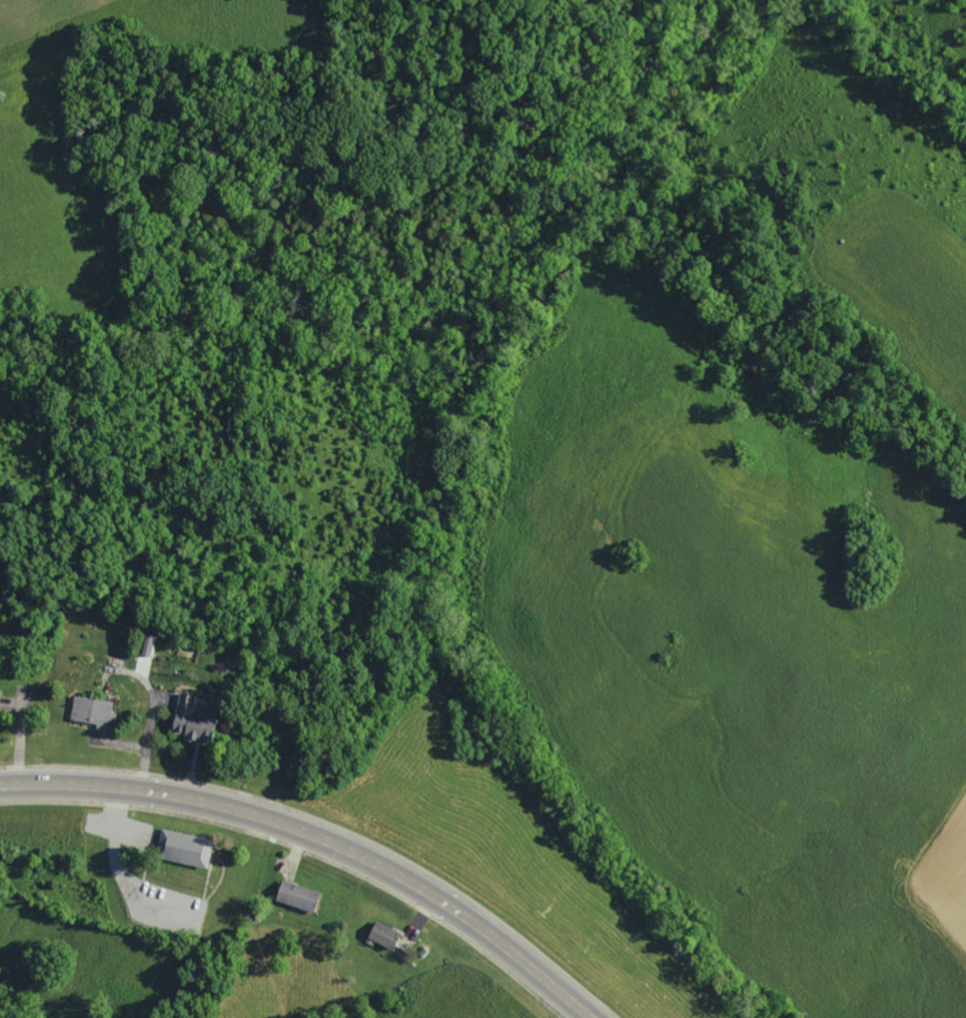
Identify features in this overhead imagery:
building: (90, 711)
building: (189, 721)
road: (320, 837)
building: (180, 848)
building: (294, 896)
building: (382, 935)

